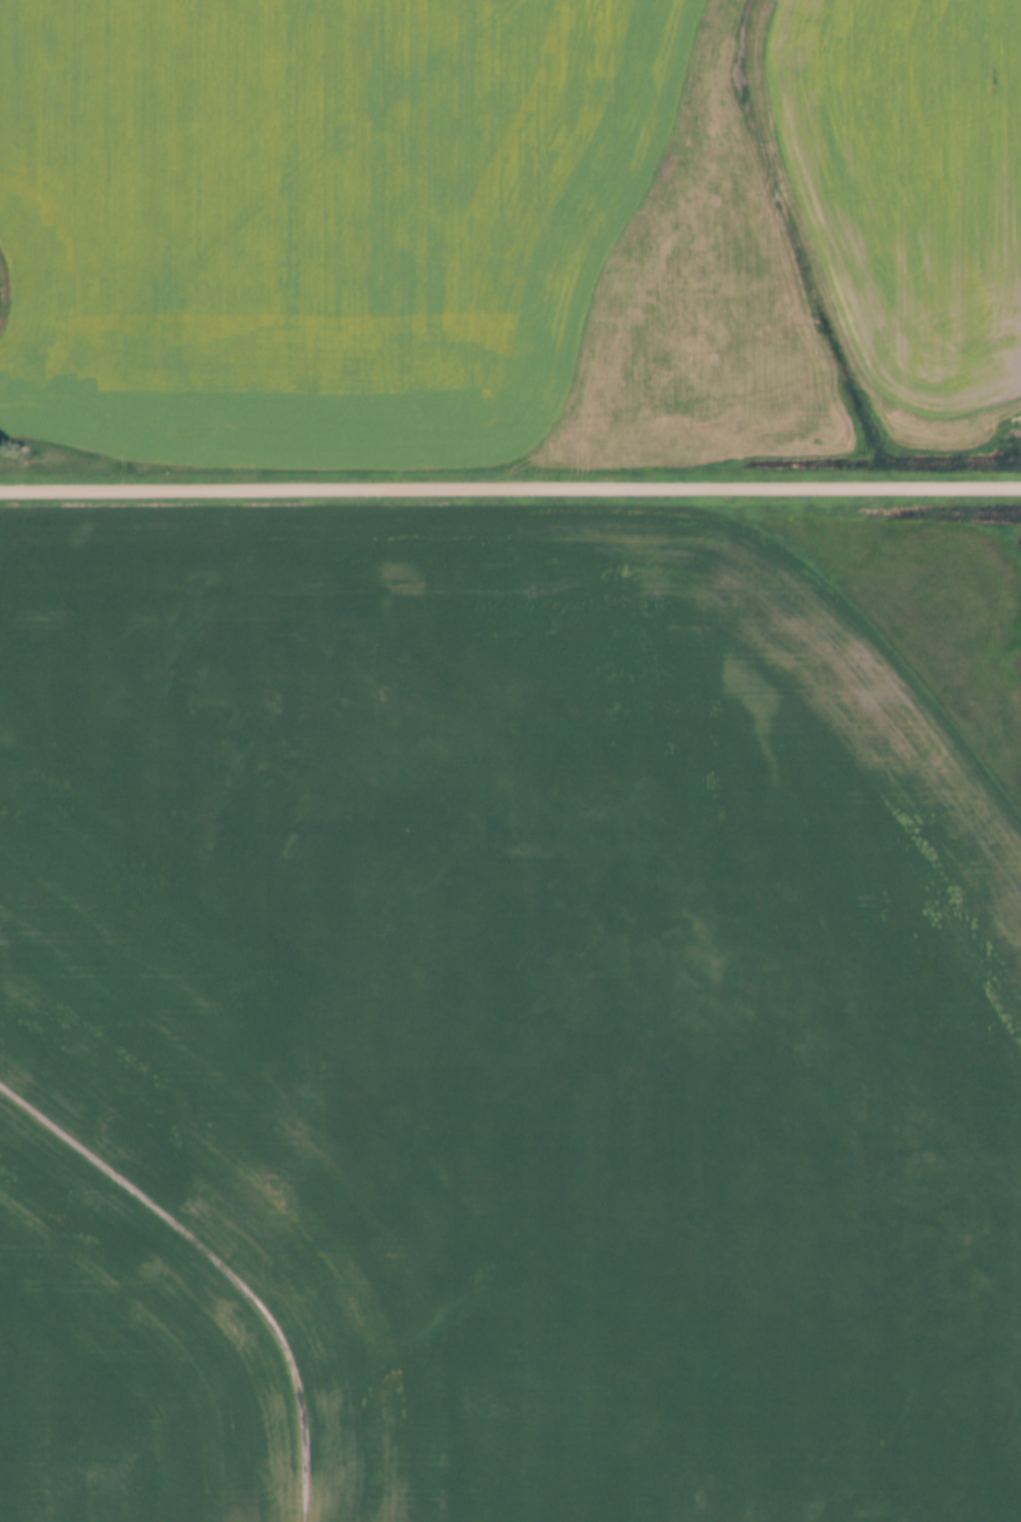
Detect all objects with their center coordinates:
road: (510, 487)

